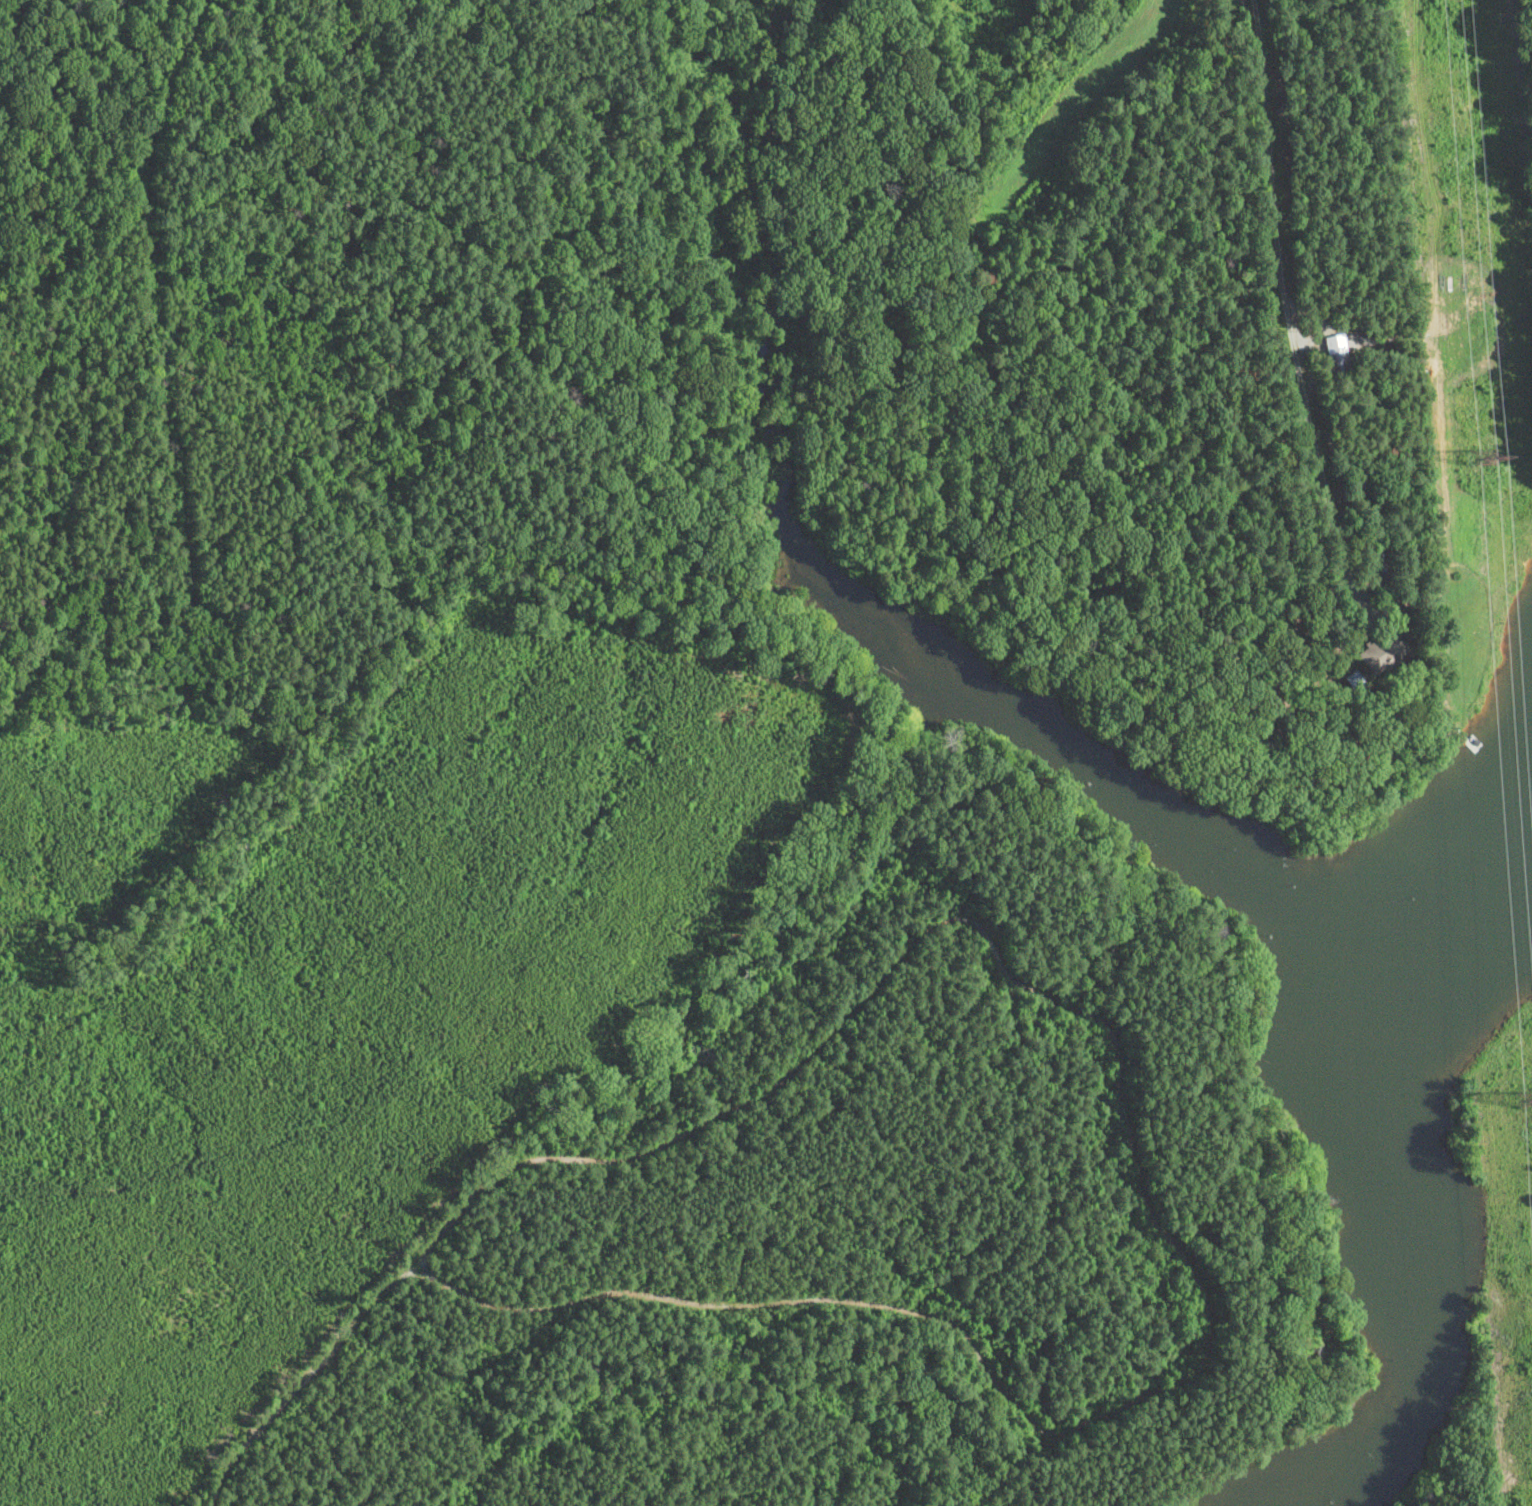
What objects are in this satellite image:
power tower: (1484, 474)
building: (1384, 564)
building: (1384, 653)
power tower: (1524, 1092)

